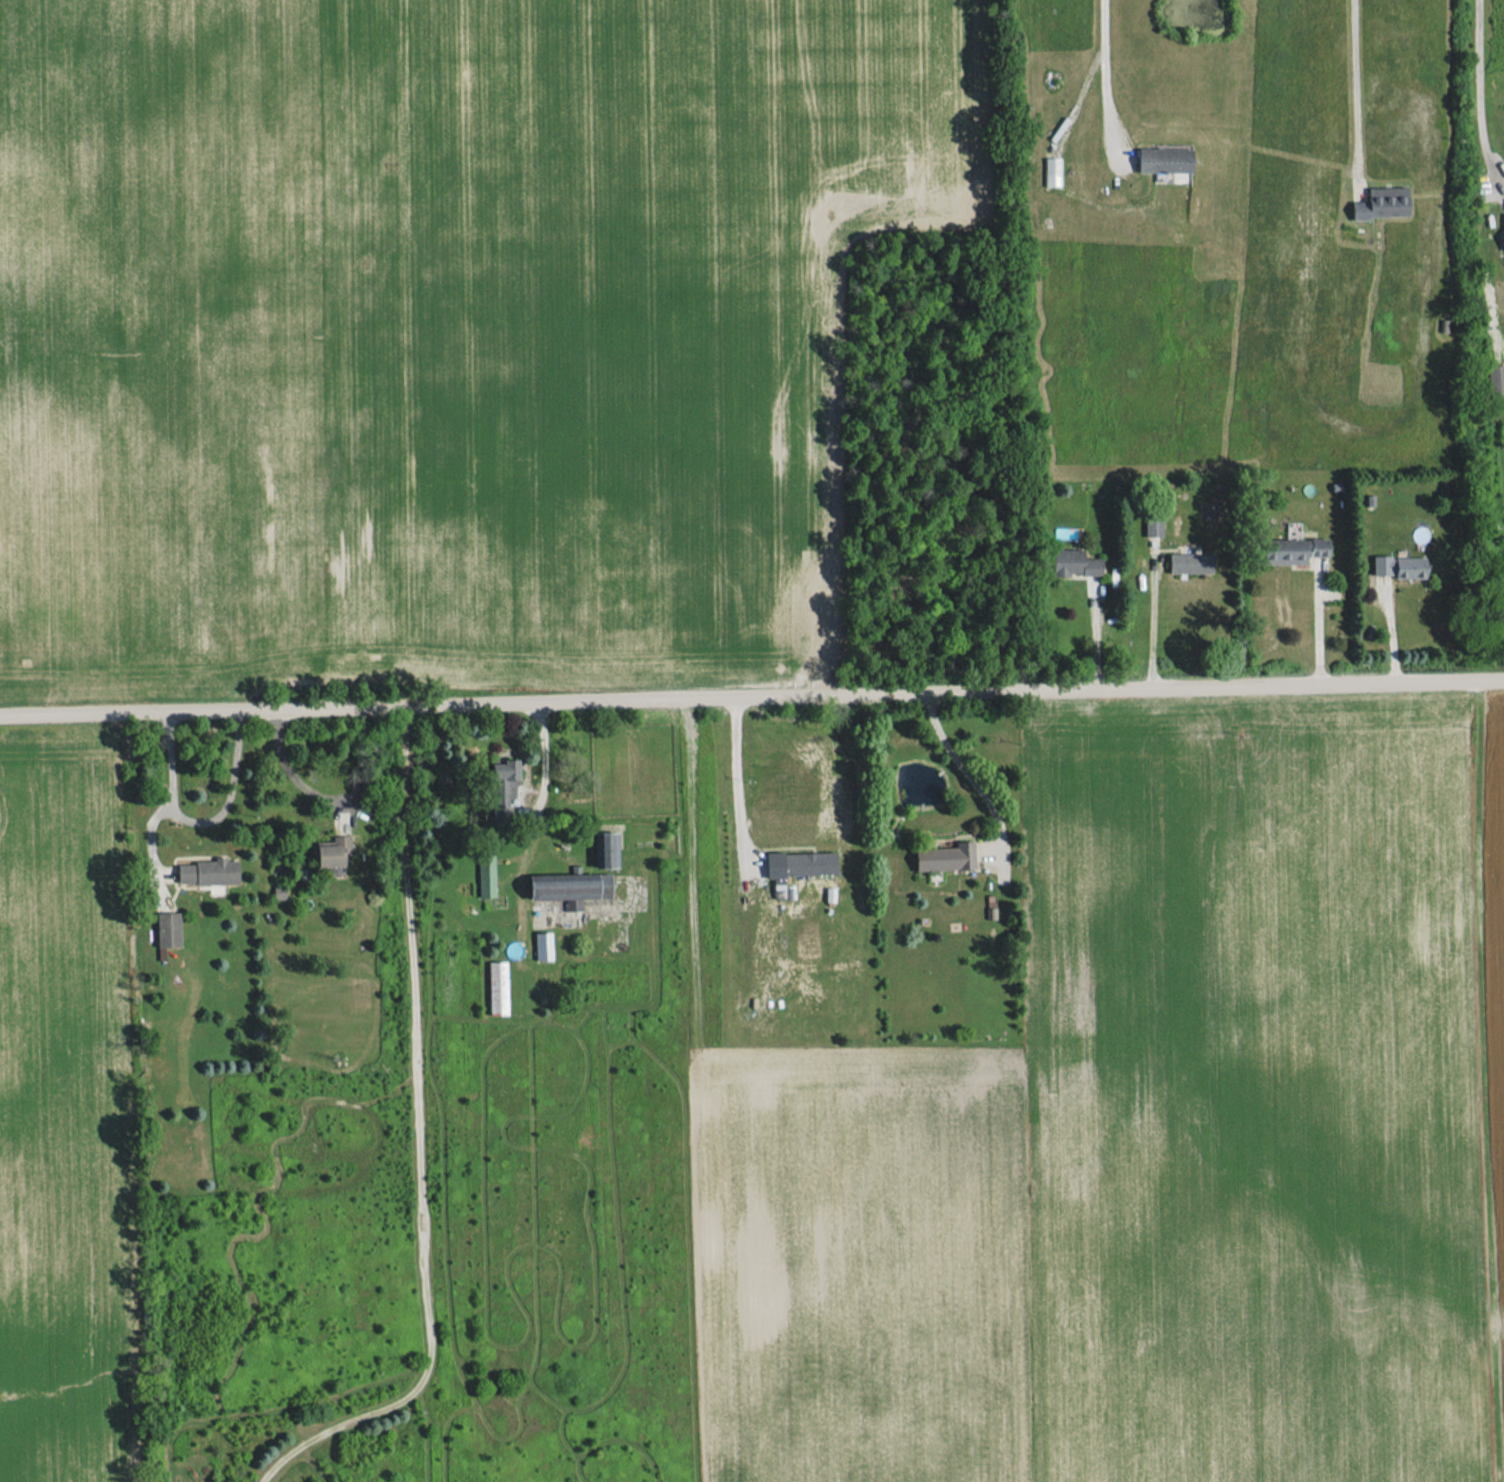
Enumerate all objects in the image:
road: (1103, 71)
road: (1480, 93)
road: (1356, 95)
building: (1164, 160)
building: (1052, 171)
building: (1382, 203)
building: (1503, 243)
building: (1495, 379)
building: (1153, 527)
building: (1293, 550)
building: (1190, 562)
building: (1075, 563)
building: (1400, 566)
road: (1152, 622)
road: (1318, 628)
road: (1095, 633)
road: (752, 696)
road: (288, 766)
road: (966, 768)
building: (504, 790)
road: (545, 795)
road: (742, 801)
road: (201, 821)
road: (150, 824)
building: (606, 849)
building: (333, 851)
building: (946, 857)
building: (799, 864)
building: (209, 873)
building: (486, 874)
building: (570, 888)
building: (279, 892)
building: (168, 929)
building: (543, 945)
building: (498, 987)
road: (422, 1140)

